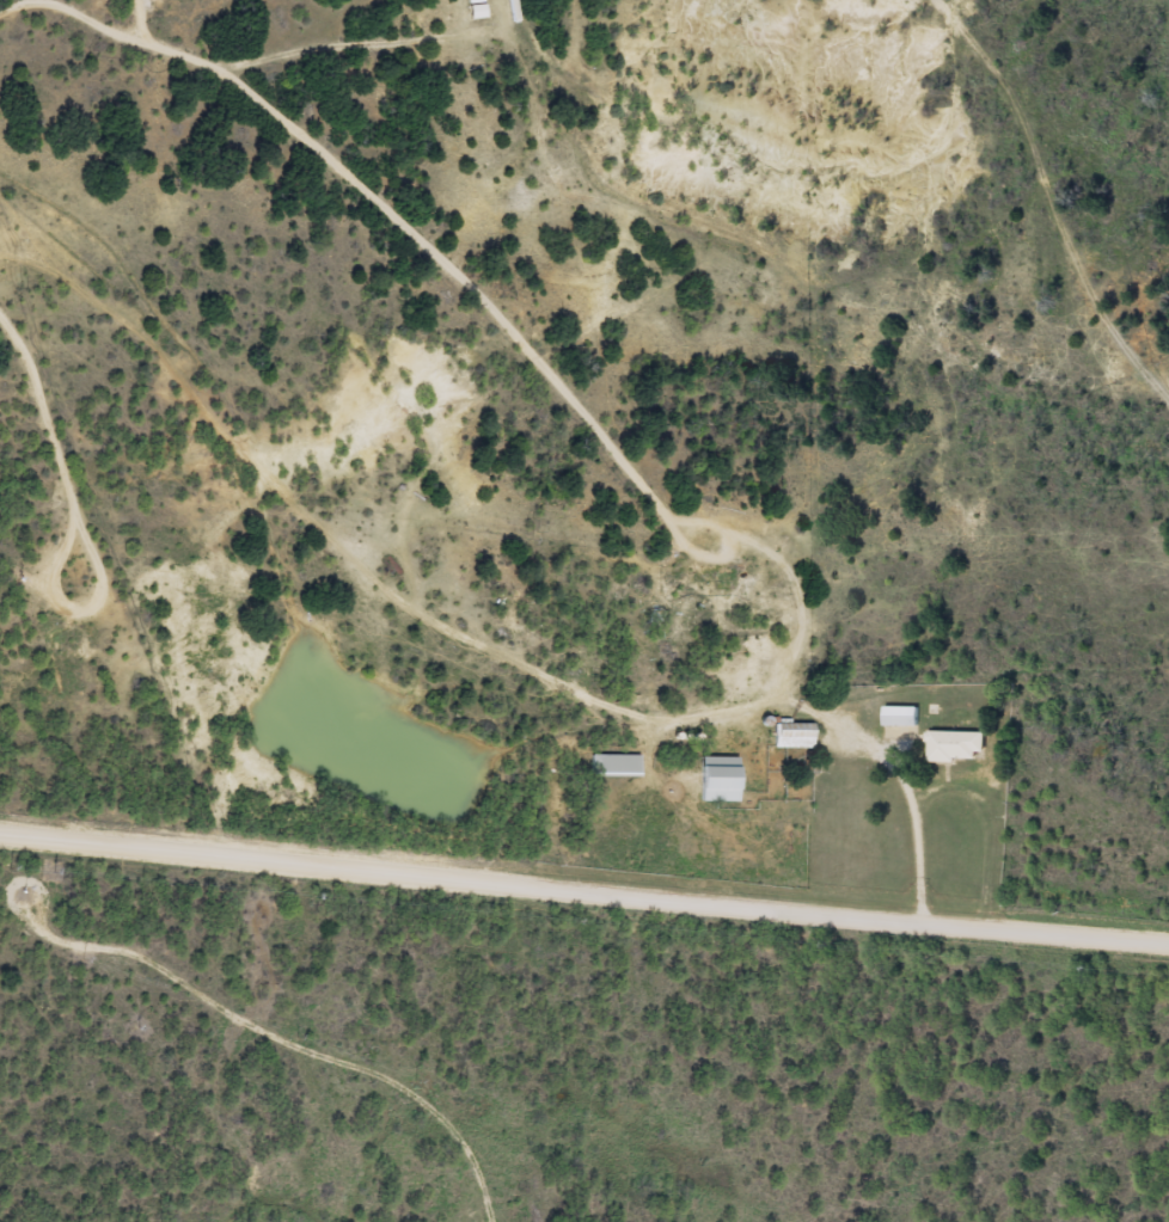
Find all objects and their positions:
building: (475, 8)
building: (899, 716)
building: (790, 735)
building: (955, 745)
building: (617, 764)
building: (715, 779)
road: (479, 880)
road: (1064, 938)

